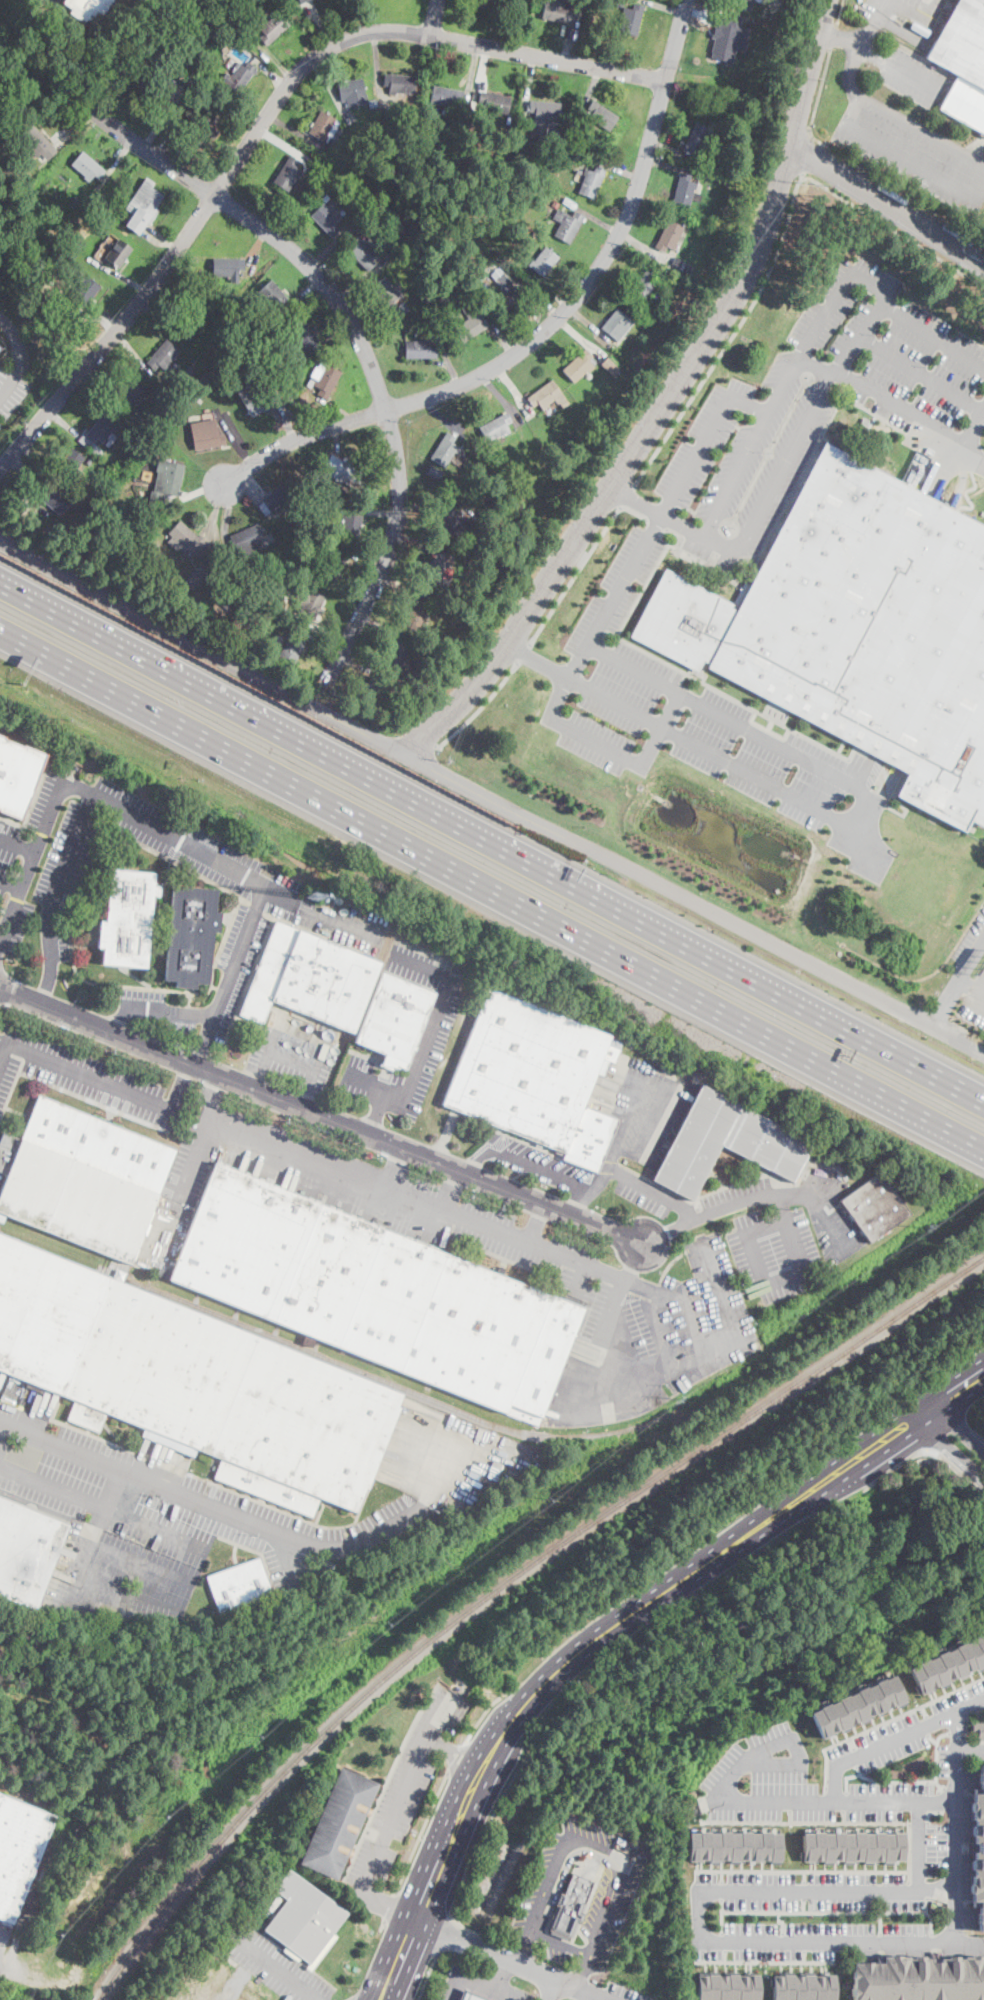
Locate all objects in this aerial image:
building: (301, 0)
road: (941, 0)
parking lot: (53, 2)
building: (272, 2)
parking lot: (145, 3)
building: (487, 3)
building: (620, 3)
building: (741, 3)
road: (662, 6)
building: (87, 8)
building: (557, 12)
road: (841, 13)
road: (701, 15)
parking lot: (906, 16)
road: (435, 18)
building: (632, 18)
road: (869, 22)
road: (319, 25)
building: (273, 28)
road: (560, 33)
road: (575, 34)
road: (834, 37)
road: (839, 37)
building: (731, 39)
building: (181, 49)
road: (272, 60)
building: (963, 61)
road: (379, 65)
road: (900, 69)
building: (760, 70)
road: (271, 73)
road: (471, 73)
road: (480, 73)
building: (206, 74)
road: (809, 74)
building: (239, 76)
parking lot: (913, 76)
building: (398, 83)
building: (120, 84)
road: (528, 86)
road: (333, 89)
road: (591, 89)
building: (166, 90)
building: (352, 92)
building: (445, 96)
building: (494, 102)
building: (373, 104)
building: (545, 110)
building: (601, 115)
road: (897, 117)
road: (266, 118)
road: (76, 127)
road: (157, 127)
building: (323, 127)
building: (204, 129)
building: (523, 129)
road: (297, 130)
building: (172, 134)
building: (696, 139)
building: (36, 143)
road: (286, 147)
road: (668, 148)
road: (164, 149)
parking lot: (913, 149)
road: (807, 156)
road: (119, 159)
road: (903, 159)
building: (419, 161)
building: (383, 162)
road: (668, 164)
building: (87, 166)
building: (361, 166)
road: (859, 167)
road: (620, 169)
building: (387, 170)
building: (288, 173)
building: (591, 181)
building: (684, 190)
building: (325, 197)
building: (569, 203)
building: (554, 204)
building: (143, 205)
road: (889, 205)
building: (58, 209)
building: (103, 219)
building: (326, 219)
road: (599, 221)
building: (567, 224)
building: (533, 236)
building: (669, 236)
road: (162, 238)
road: (781, 243)
road: (644, 246)
road: (329, 250)
road: (256, 251)
building: (117, 252)
building: (362, 253)
building: (544, 261)
road: (637, 261)
building: (676, 261)
building: (427, 266)
building: (493, 266)
building: (227, 267)
building: (689, 271)
building: (474, 275)
road: (127, 277)
road: (361, 279)
building: (644, 288)
building: (85, 291)
road: (885, 291)
building: (272, 294)
road: (300, 295)
road: (555, 295)
building: (206, 296)
building: (257, 296)
building: (390, 298)
road: (542, 298)
building: (508, 299)
building: (225, 307)
road: (97, 316)
building: (187, 316)
road: (159, 317)
building: (471, 323)
building: (616, 323)
road: (591, 327)
road: (548, 328)
road: (498, 331)
building: (435, 332)
road: (338, 334)
road: (580, 337)
road: (855, 337)
building: (301, 338)
road: (363, 348)
building: (419, 349)
road: (134, 351)
building: (257, 351)
parking lot: (894, 352)
road: (19, 355)
building: (163, 355)
road: (816, 364)
road: (449, 365)
building: (579, 365)
building: (609, 365)
building: (223, 367)
road: (921, 373)
building: (324, 379)
road: (97, 383)
building: (288, 383)
building: (211, 384)
road: (514, 389)
building: (613, 390)
parking lot: (11, 391)
building: (129, 392)
building: (253, 395)
building: (546, 395)
road: (501, 397)
building: (564, 403)
building: (191, 406)
road: (336, 409)
road: (444, 417)
road: (917, 417)
building: (864, 421)
road: (285, 423)
road: (69, 425)
building: (496, 427)
building: (105, 430)
building: (206, 434)
road: (234, 438)
road: (342, 440)
road: (751, 443)
building: (95, 450)
building: (445, 450)
parking lot: (939, 454)
road: (974, 455)
road: (40, 458)
parking lot: (743, 460)
road: (784, 461)
building: (69, 462)
building: (91, 464)
road: (624, 468)
building: (347, 472)
building: (434, 472)
building: (166, 479)
road: (429, 481)
road: (252, 483)
building: (491, 486)
building: (328, 488)
road: (22, 491)
road: (196, 493)
road: (627, 494)
building: (325, 495)
building: (283, 497)
road: (424, 499)
building: (53, 500)
road: (26, 504)
building: (103, 509)
road: (376, 510)
road: (634, 511)
road: (216, 512)
road: (227, 515)
road: (659, 516)
building: (321, 517)
building: (83, 518)
road: (674, 518)
building: (451, 519)
road: (655, 524)
building: (351, 526)
building: (186, 537)
building: (526, 537)
building: (248, 540)
building: (467, 540)
building: (151, 544)
road: (410, 548)
road: (364, 561)
building: (331, 568)
building: (437, 568)
road: (575, 574)
building: (196, 578)
road: (398, 586)
building: (234, 595)
building: (311, 604)
building: (417, 610)
road: (377, 621)
building: (857, 629)
road: (330, 631)
building: (291, 648)
road: (324, 648)
building: (395, 652)
road: (523, 652)
road: (537, 659)
road: (359, 663)
road: (630, 670)
building: (373, 690)
road: (613, 702)
road: (480, 707)
parking lot: (704, 725)
road: (792, 754)
building: (17, 774)
road: (490, 799)
road: (492, 842)
road: (18, 844)
road: (31, 862)
road: (221, 862)
road: (59, 877)
road: (11, 882)
road: (492, 887)
parking lot: (280, 905)
building: (127, 918)
building: (159, 921)
parking lot: (975, 933)
building: (190, 935)
road: (971, 952)
road: (234, 961)
building: (310, 978)
road: (966, 983)
road: (47, 984)
road: (975, 991)
road: (945, 999)
parking lot: (974, 1002)
road: (171, 1012)
road: (437, 1014)
building: (394, 1017)
parking lot: (440, 1020)
road: (122, 1021)
road: (201, 1051)
building: (323, 1051)
parking lot: (290, 1054)
road: (290, 1057)
road: (257, 1067)
road: (81, 1072)
parking lot: (85, 1077)
building: (534, 1077)
road: (651, 1082)
road: (376, 1084)
road: (183, 1085)
road: (310, 1087)
road: (209, 1094)
road: (376, 1110)
road: (628, 1113)
road: (320, 1114)
road: (648, 1120)
building: (727, 1142)
road: (625, 1151)
road: (195, 1157)
road: (479, 1157)
road: (611, 1157)
road: (397, 1168)
road: (544, 1171)
building: (82, 1179)
road: (449, 1189)
road: (590, 1191)
road: (652, 1191)
parking lot: (714, 1197)
road: (755, 1197)
building: (875, 1207)
road: (439, 1208)
road: (536, 1223)
road: (767, 1225)
road: (789, 1230)
road: (832, 1231)
road: (666, 1232)
parking lot: (501, 1245)
road: (757, 1257)
road: (634, 1262)
building: (306, 1265)
building: (162, 1272)
road: (784, 1275)
road: (578, 1278)
road: (720, 1290)
road: (664, 1299)
road: (611, 1306)
road: (627, 1308)
road: (693, 1323)
building: (490, 1337)
road: (659, 1337)
road: (700, 1356)
road: (626, 1363)
building: (190, 1381)
road: (943, 1416)
road: (932, 1425)
road: (2, 1430)
railway: (562, 1437)
road: (971, 1438)
road: (924, 1450)
road: (962, 1460)
road: (105, 1507)
road: (211, 1507)
parking lot: (132, 1515)
building: (26, 1552)
road: (289, 1559)
road: (143, 1562)
road: (78, 1575)
building: (238, 1584)
railway: (505, 1584)
building: (237, 1610)
road: (613, 1625)
building: (946, 1661)
building: (853, 1705)
road: (922, 1710)
road: (482, 1719)
road: (882, 1721)
road: (925, 1724)
road: (967, 1726)
building: (977, 1728)
road: (957, 1730)
road: (930, 1738)
road: (892, 1739)
road: (434, 1740)
road: (773, 1742)
road: (849, 1742)
road: (468, 1748)
road: (970, 1748)
road: (853, 1756)
road: (457, 1757)
road: (936, 1757)
road: (857, 1769)
road: (455, 1778)
road: (880, 1781)
parking lot: (406, 1792)
road: (399, 1796)
road: (844, 1801)
road: (836, 1802)
parking lot: (832, 1809)
building: (368, 1810)
road: (790, 1815)
road: (843, 1816)
building: (338, 1822)
road: (421, 1833)
road: (485, 1835)
building: (730, 1843)
building: (849, 1843)
road: (593, 1845)
building: (978, 1845)
road: (918, 1846)
road: (957, 1847)
road: (909, 1849)
building: (19, 1850)
building: (350, 1852)
road: (566, 1865)
building: (42, 1874)
road: (803, 1876)
road: (910, 1877)
road: (803, 1890)
road: (837, 1890)
parking lot: (612, 1897)
road: (803, 1904)
road: (927, 1904)
road: (393, 1906)
road: (390, 1907)
building: (570, 1907)
road: (835, 1911)
road: (721, 1915)
road: (880, 1916)
building: (304, 1920)
road: (783, 1920)
road: (697, 1921)
road: (257, 1922)
road: (931, 1924)
road: (383, 1926)
road: (444, 1937)
road: (488, 1937)
road: (2, 1938)
parking lot: (4, 1939)
road: (560, 1942)
road: (854, 1944)
road: (498, 1954)
road: (801, 1962)
parking lot: (278, 1966)
road: (277, 1972)
road: (499, 1973)
building: (919, 1978)
road: (427, 1979)
building: (723, 1986)
building: (800, 1986)
road: (490, 1987)
road: (454, 1988)
road: (553, 1989)
road: (583, 1989)
parking lot: (615, 1992)
building: (471, 1996)
gas station: (471, 1996)
railway: (100, 1998)
road: (607, 1998)
road: (522, 1999)

